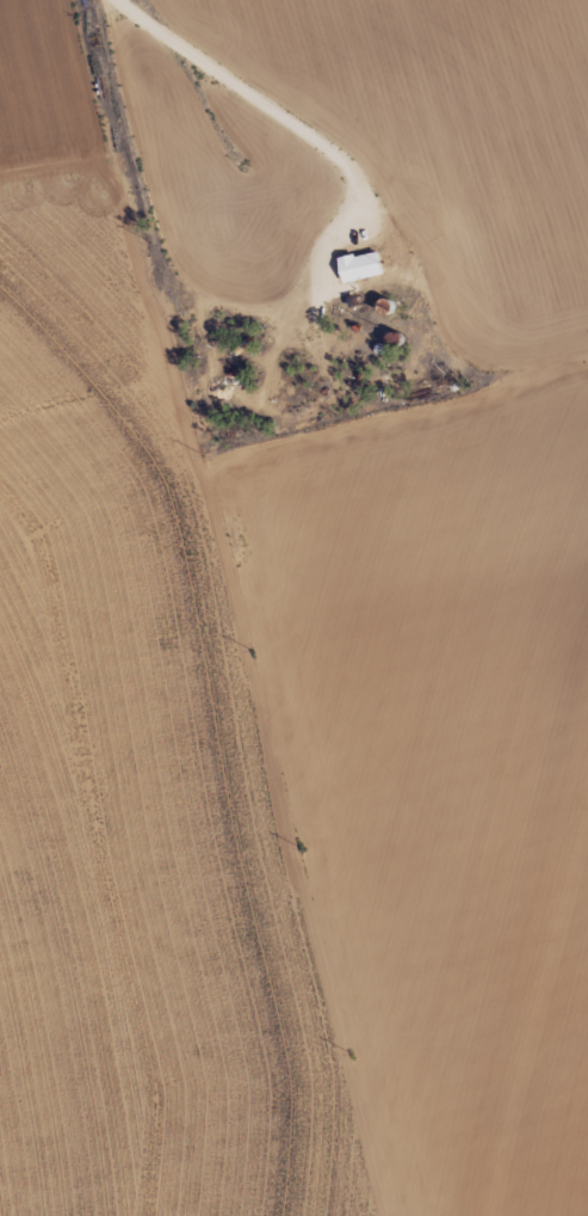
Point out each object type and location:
building: (359, 265)

